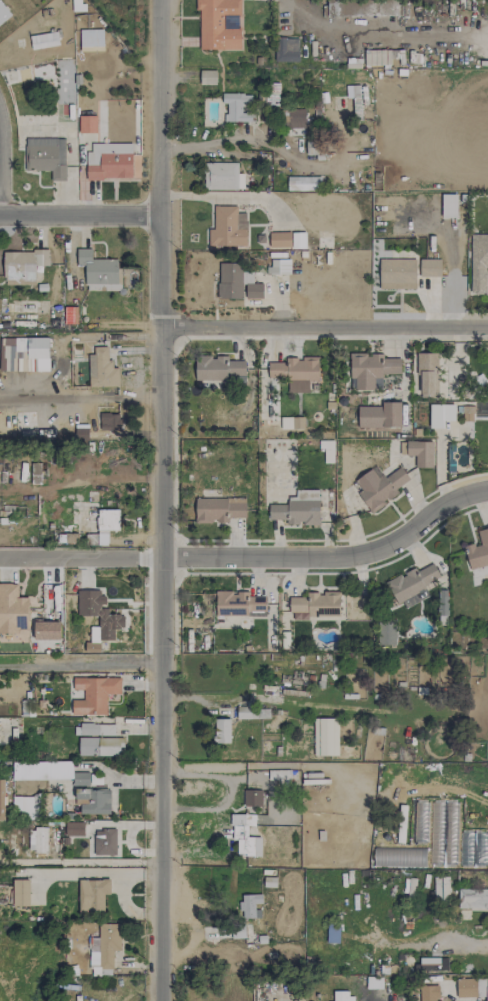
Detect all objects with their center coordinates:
building: (361, 7)
building: (3, 13)
building: (219, 24)
road: (383, 33)
building: (91, 40)
building: (286, 49)
building: (207, 76)
building: (272, 93)
building: (236, 107)
building: (294, 118)
building: (87, 124)
road: (35, 130)
road: (258, 140)
building: (313, 147)
building: (46, 156)
building: (109, 161)
building: (222, 176)
building: (303, 183)
road: (228, 199)
building: (449, 206)
road: (79, 219)
building: (227, 227)
building: (287, 239)
building: (478, 263)
building: (22, 266)
building: (279, 266)
building: (429, 267)
building: (99, 271)
building: (397, 273)
building: (237, 283)
road: (323, 325)
building: (30, 354)
building: (101, 368)
building: (217, 368)
building: (370, 370)
building: (295, 372)
building: (427, 373)
road: (92, 397)
building: (466, 413)
building: (441, 414)
building: (379, 415)
building: (109, 421)
building: (418, 452)
building: (379, 487)
road: (160, 500)
building: (218, 509)
building: (296, 512)
building: (106, 524)
building: (478, 550)
road: (332, 558)
road: (80, 560)
building: (411, 585)
building: (238, 603)
building: (12, 609)
building: (110, 621)
building: (386, 632)
road: (80, 664)
building: (93, 694)
building: (222, 730)
building: (325, 736)
building: (98, 740)
building: (42, 770)
building: (80, 778)
road: (233, 788)
building: (252, 797)
building: (1, 799)
building: (93, 801)
building: (26, 806)
building: (74, 828)
building: (245, 835)
building: (38, 841)
building: (104, 842)
building: (399, 856)
road: (81, 862)
building: (441, 889)
building: (20, 892)
building: (92, 894)
building: (473, 898)
building: (251, 905)
road: (434, 939)
building: (104, 949)
building: (374, 982)
building: (466, 988)
building: (427, 992)
building: (343, 996)

